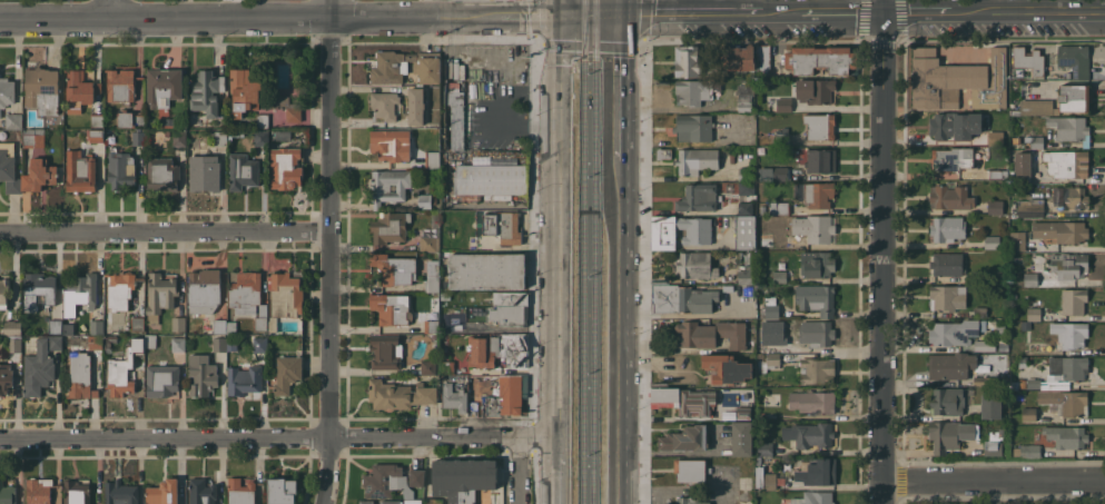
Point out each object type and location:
road: (717, 4)
road: (620, 6)
road: (438, 7)
road: (559, 7)
road: (111, 9)
road: (689, 10)
road: (779, 10)
road: (839, 10)
traffic signals: (880, 10)
road: (916, 10)
road: (1000, 10)
traffic signals: (620, 11)
road: (1077, 11)
road: (589, 12)
traffic signals: (559, 13)
road: (279, 18)
building: (737, 57)
building: (820, 58)
building: (1028, 59)
building: (1074, 59)
building: (687, 60)
building: (763, 60)
building: (405, 66)
building: (90, 76)
road: (619, 77)
building: (957, 79)
building: (120, 85)
building: (162, 86)
building: (79, 89)
building: (815, 89)
building: (243, 90)
building: (695, 90)
building: (6, 91)
building: (43, 91)
building: (205, 92)
building: (744, 97)
building: (1058, 101)
building: (385, 103)
building: (783, 103)
building: (416, 105)
building: (289, 108)
building: (455, 112)
building: (995, 115)
building: (1004, 115)
building: (129, 118)
building: (97, 119)
building: (13, 120)
building: (262, 120)
building: (954, 125)
building: (693, 126)
building: (819, 126)
building: (1069, 128)
building: (1032, 130)
building: (96, 135)
building: (283, 135)
building: (33, 137)
building: (138, 137)
building: (179, 137)
building: (220, 137)
building: (996, 137)
building: (260, 138)
building: (780, 138)
building: (1033, 141)
building: (195, 142)
building: (391, 144)
building: (663, 152)
building: (953, 157)
building: (432, 158)
building: (695, 159)
building: (820, 160)
building: (1024, 161)
building: (1066, 162)
building: (9, 167)
building: (286, 167)
building: (120, 169)
building: (80, 170)
building: (243, 170)
building: (204, 171)
building: (162, 172)
building: (744, 172)
building: (780, 172)
building: (39, 174)
building: (997, 174)
building: (490, 180)
building: (388, 185)
building: (746, 189)
building: (815, 192)
building: (698, 197)
building: (949, 197)
building: (1069, 197)
building: (423, 200)
building: (995, 206)
building: (744, 207)
building: (779, 207)
building: (1030, 207)
building: (762, 209)
building: (389, 226)
building: (503, 226)
building: (820, 228)
building: (946, 228)
road: (164, 230)
building: (698, 231)
building: (744, 231)
building: (1049, 231)
building: (780, 240)
building: (991, 241)
building: (428, 243)
road: (328, 251)
railway: (583, 251)
railway: (593, 251)
road: (880, 251)
road: (558, 257)
building: (1019, 259)
building: (816, 263)
building: (946, 264)
building: (695, 265)
building: (1068, 265)
building: (394, 268)
building: (486, 269)
building: (744, 274)
building: (432, 276)
building: (779, 276)
building: (1030, 278)
building: (38, 288)
building: (750, 289)
building: (120, 290)
building: (204, 290)
building: (3, 291)
building: (80, 291)
building: (247, 293)
building: (159, 295)
building: (445, 296)
building: (947, 296)
building: (510, 298)
building: (681, 298)
building: (816, 298)
building: (282, 299)
building: (1073, 300)
building: (140, 306)
building: (391, 307)
building: (769, 307)
building: (980, 310)
building: (1034, 314)
building: (509, 315)
building: (137, 323)
building: (178, 323)
road: (618, 323)
building: (224, 325)
building: (431, 325)
building: (1025, 325)
building: (12, 326)
building: (55, 326)
building: (68, 328)
building: (999, 328)
building: (953, 332)
building: (816, 333)
building: (1069, 333)
building: (96, 334)
building: (711, 334)
building: (149, 339)
building: (109, 340)
building: (13, 342)
building: (219, 342)
building: (178, 344)
building: (260, 344)
building: (985, 345)
building: (772, 346)
building: (500, 349)
building: (385, 352)
building: (767, 360)
building: (40, 364)
building: (950, 365)
building: (428, 366)
building: (446, 366)
building: (726, 367)
building: (1067, 367)
building: (125, 368)
building: (817, 369)
building: (287, 373)
building: (80, 375)
building: (201, 375)
building: (6, 376)
building: (244, 378)
building: (161, 379)
building: (984, 379)
building: (1004, 379)
building: (1022, 382)
building: (1035, 382)
building: (399, 394)
building: (495, 394)
building: (453, 396)
building: (683, 399)
building: (812, 401)
building: (946, 401)
building: (1064, 402)
building: (990, 404)
building: (743, 412)
building: (1028, 413)
building: (809, 433)
building: (950, 434)
building: (1066, 436)
road: (278, 438)
building: (685, 438)
building: (741, 438)
building: (764, 447)
building: (991, 447)
building: (1027, 451)
building: (757, 459)
building: (689, 468)
road: (519, 470)
building: (818, 471)
building: (416, 476)
building: (463, 477)
road: (993, 477)
building: (766, 480)
building: (385, 481)
building: (38, 490)
building: (201, 491)
building: (240, 491)
building: (282, 491)
road: (996, 491)
building: (76, 492)
building: (120, 492)
building: (162, 492)
building: (7, 493)
building: (813, 497)
building: (690, 500)
building: (411, 501)
building: (365, 502)
building: (389, 502)
road: (558, 503)

